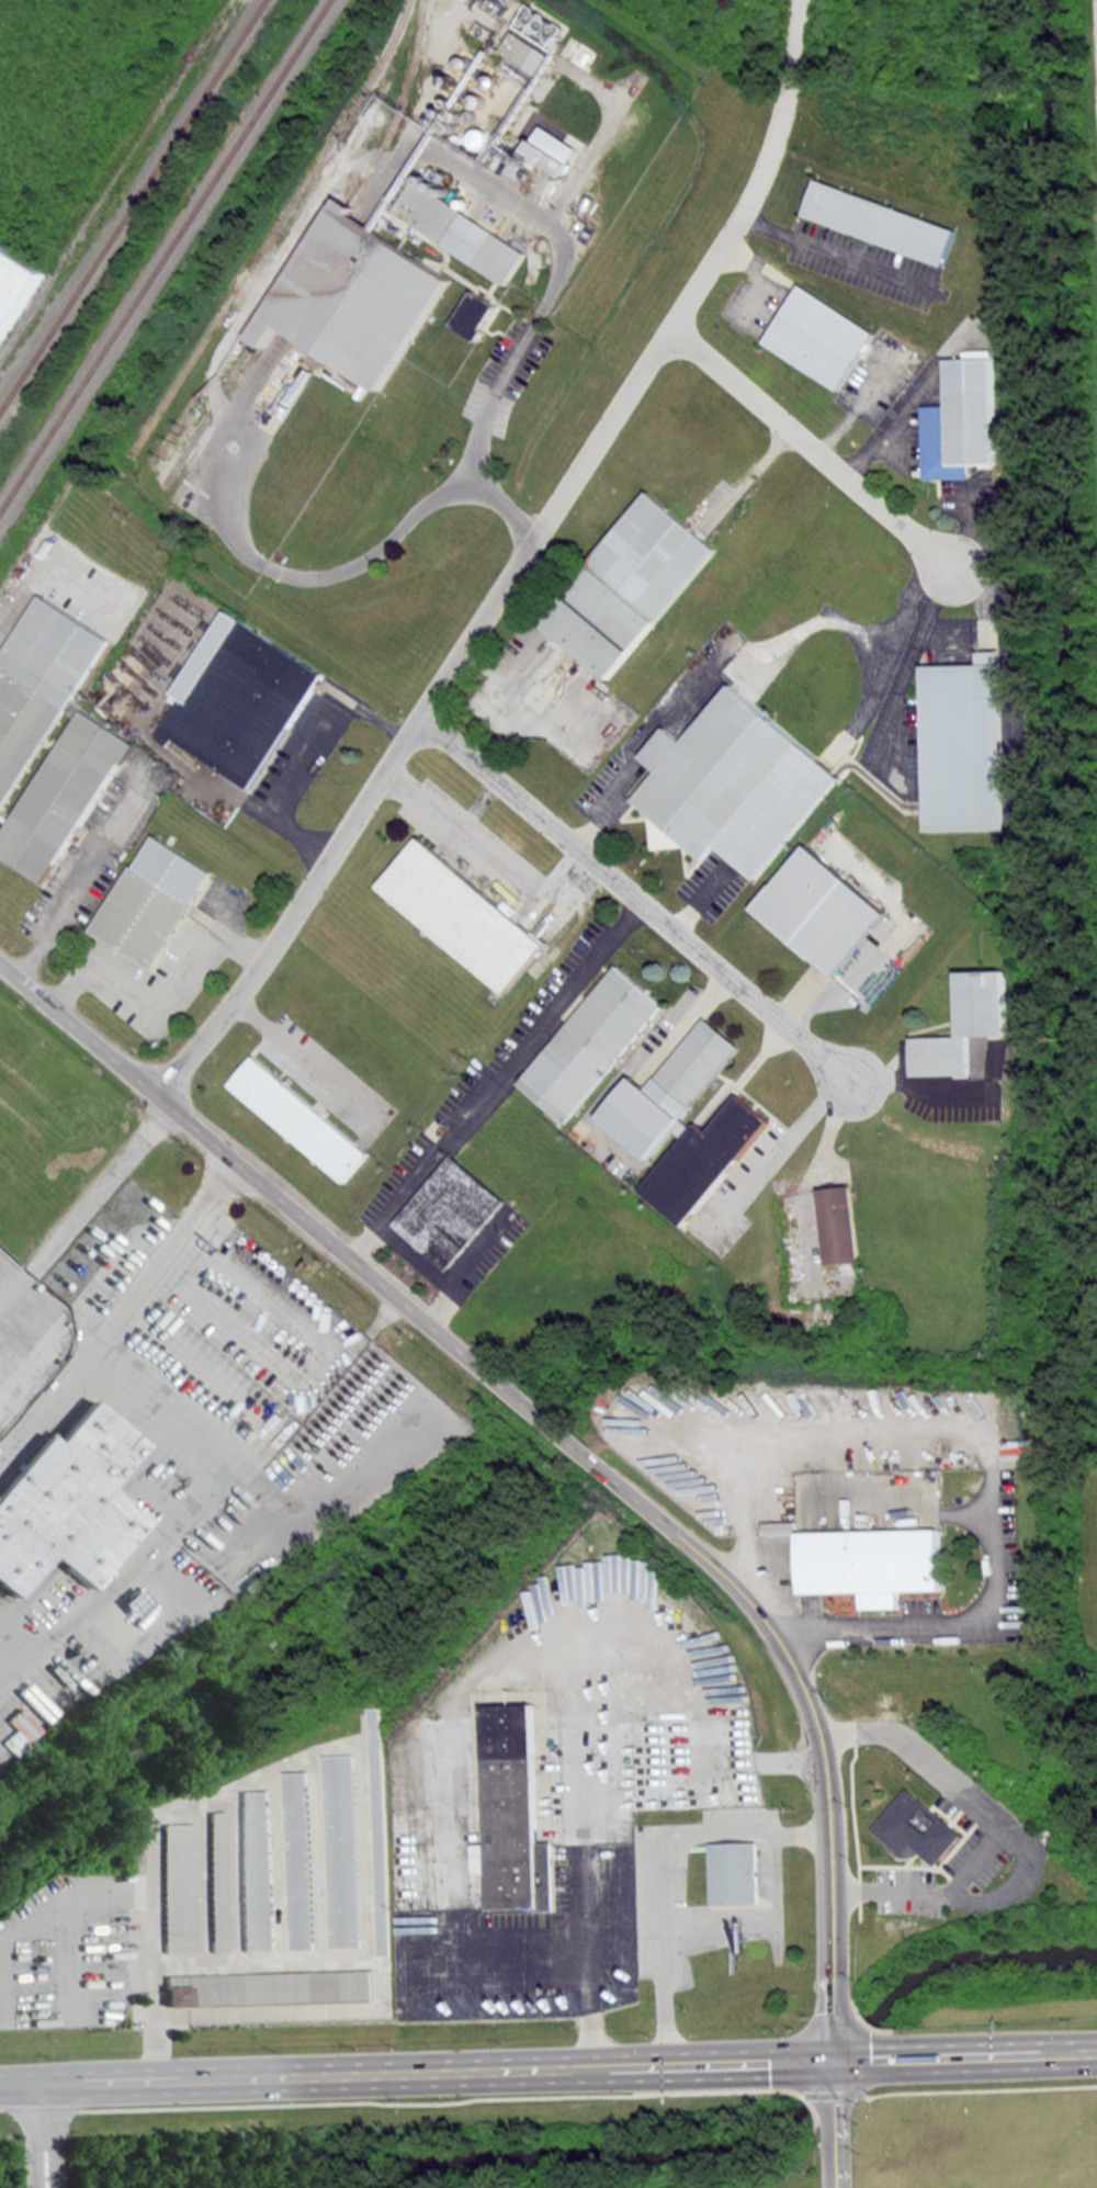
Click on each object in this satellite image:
landfill: (1096, 27)
building: (525, 52)
building: (542, 168)
railway: (114, 174)
railway: (132, 204)
building: (884, 221)
railway: (271, 230)
building: (459, 230)
railway: (313, 250)
railway: (163, 255)
building: (14, 285)
building: (353, 296)
building: (475, 314)
building: (824, 337)
road: (498, 384)
building: (964, 420)
road: (814, 447)
road: (517, 564)
road: (285, 572)
building: (630, 584)
building: (238, 698)
road: (373, 715)
building: (92, 732)
building: (966, 745)
building: (736, 783)
road: (287, 793)
road: (487, 855)
road: (637, 898)
building: (151, 903)
building: (823, 910)
building: (464, 915)
road: (157, 997)
building: (969, 1025)
building: (591, 1044)
road: (307, 1062)
road: (494, 1078)
road: (921, 1085)
building: (298, 1118)
building: (687, 1121)
road: (824, 1149)
road: (782, 1154)
building: (450, 1214)
building: (839, 1226)
road: (420, 1266)
road: (112, 1321)
road: (558, 1434)
building: (68, 1504)
building: (872, 1564)
road: (942, 1620)
building: (512, 1818)
building: (914, 1828)
building: (380, 1829)
road: (1020, 1838)
building: (342, 1851)
building: (299, 1860)
building: (255, 1870)
building: (737, 1875)
building: (216, 1881)
building: (176, 1887)
road: (585, 1896)
road: (494, 1945)
building: (269, 1987)
road: (965, 2056)
traffic signals: (835, 2061)
road: (417, 2072)
road: (836, 2124)
road: (33, 2135)
road: (54, 2135)

